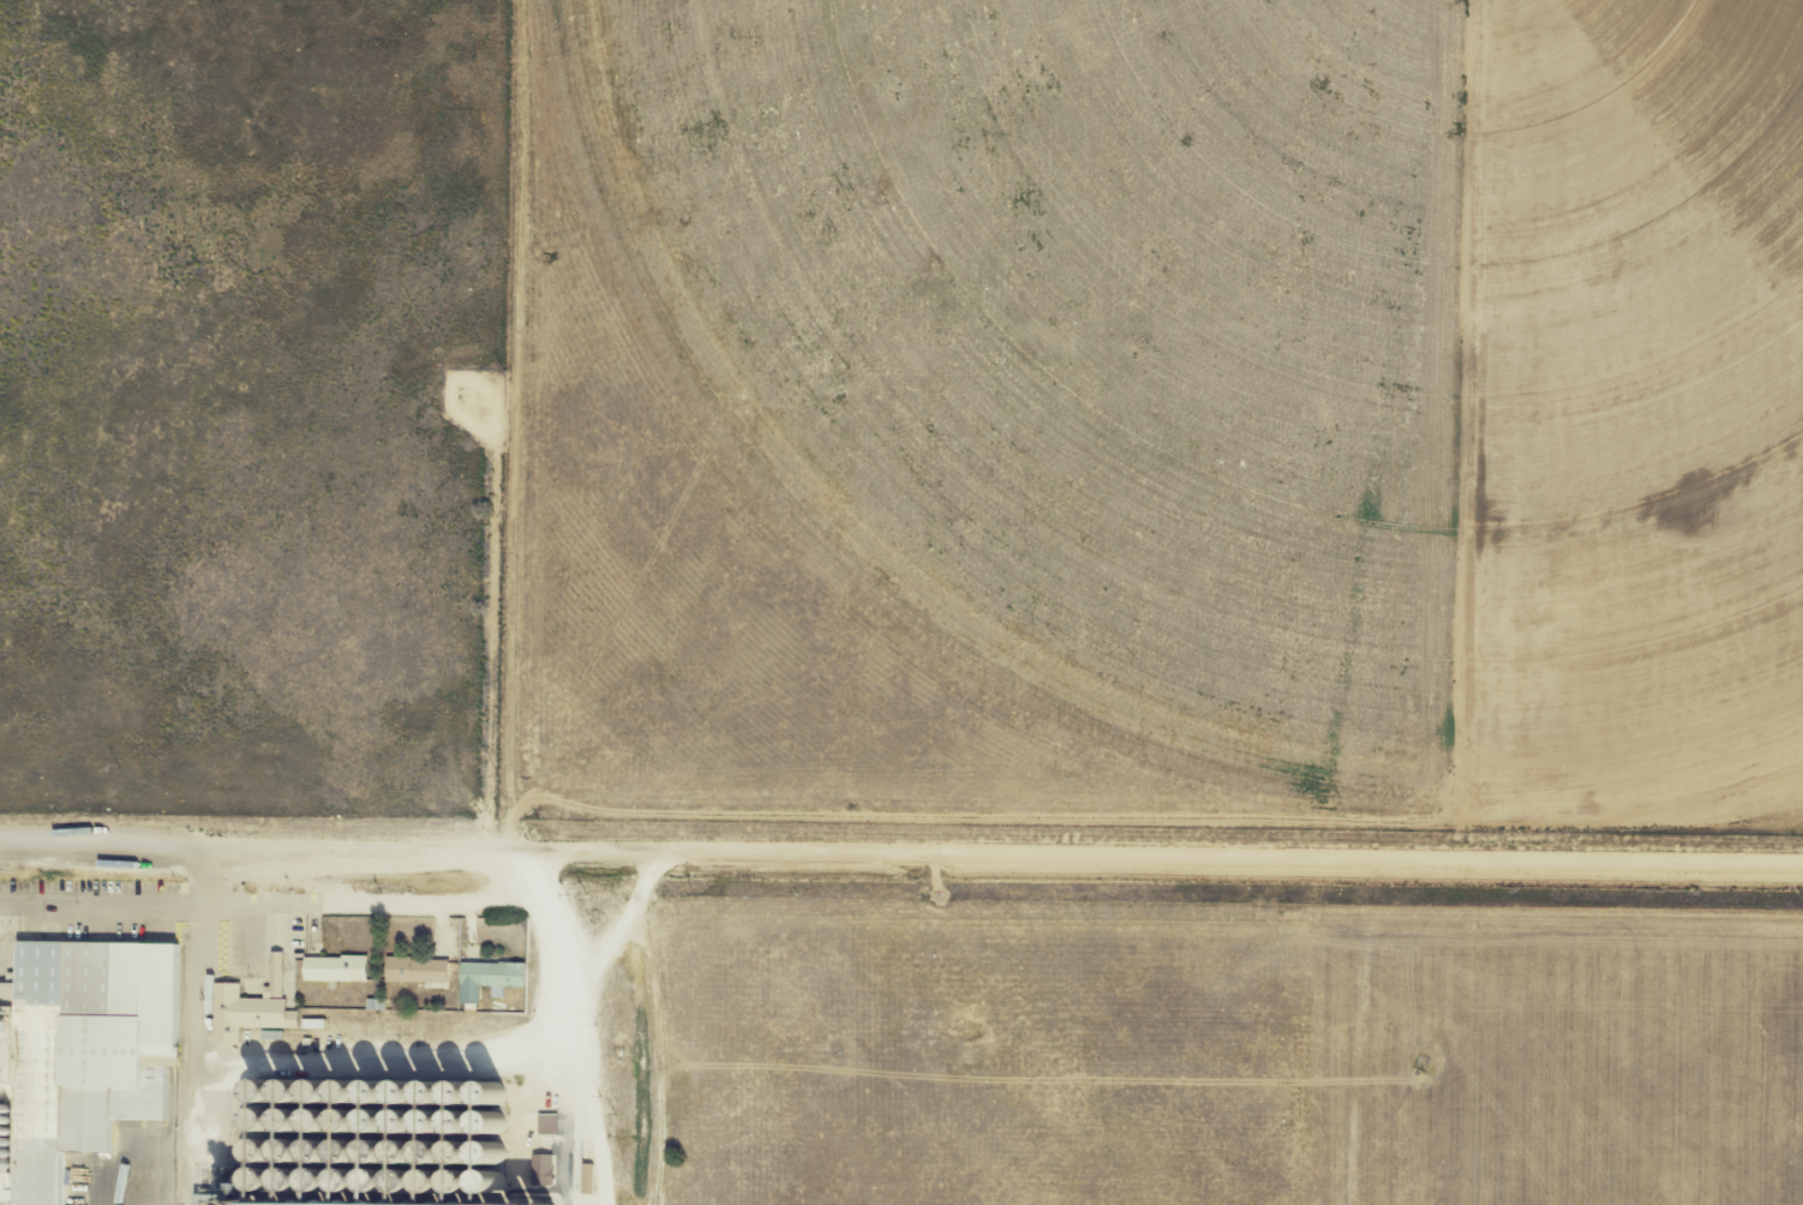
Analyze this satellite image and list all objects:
road: (900, 864)
road: (432, 904)
road: (603, 949)
building: (336, 970)
building: (418, 972)
building: (495, 976)
building: (245, 1013)
building: (71, 1057)
railway: (179, 1068)
building: (587, 1179)

